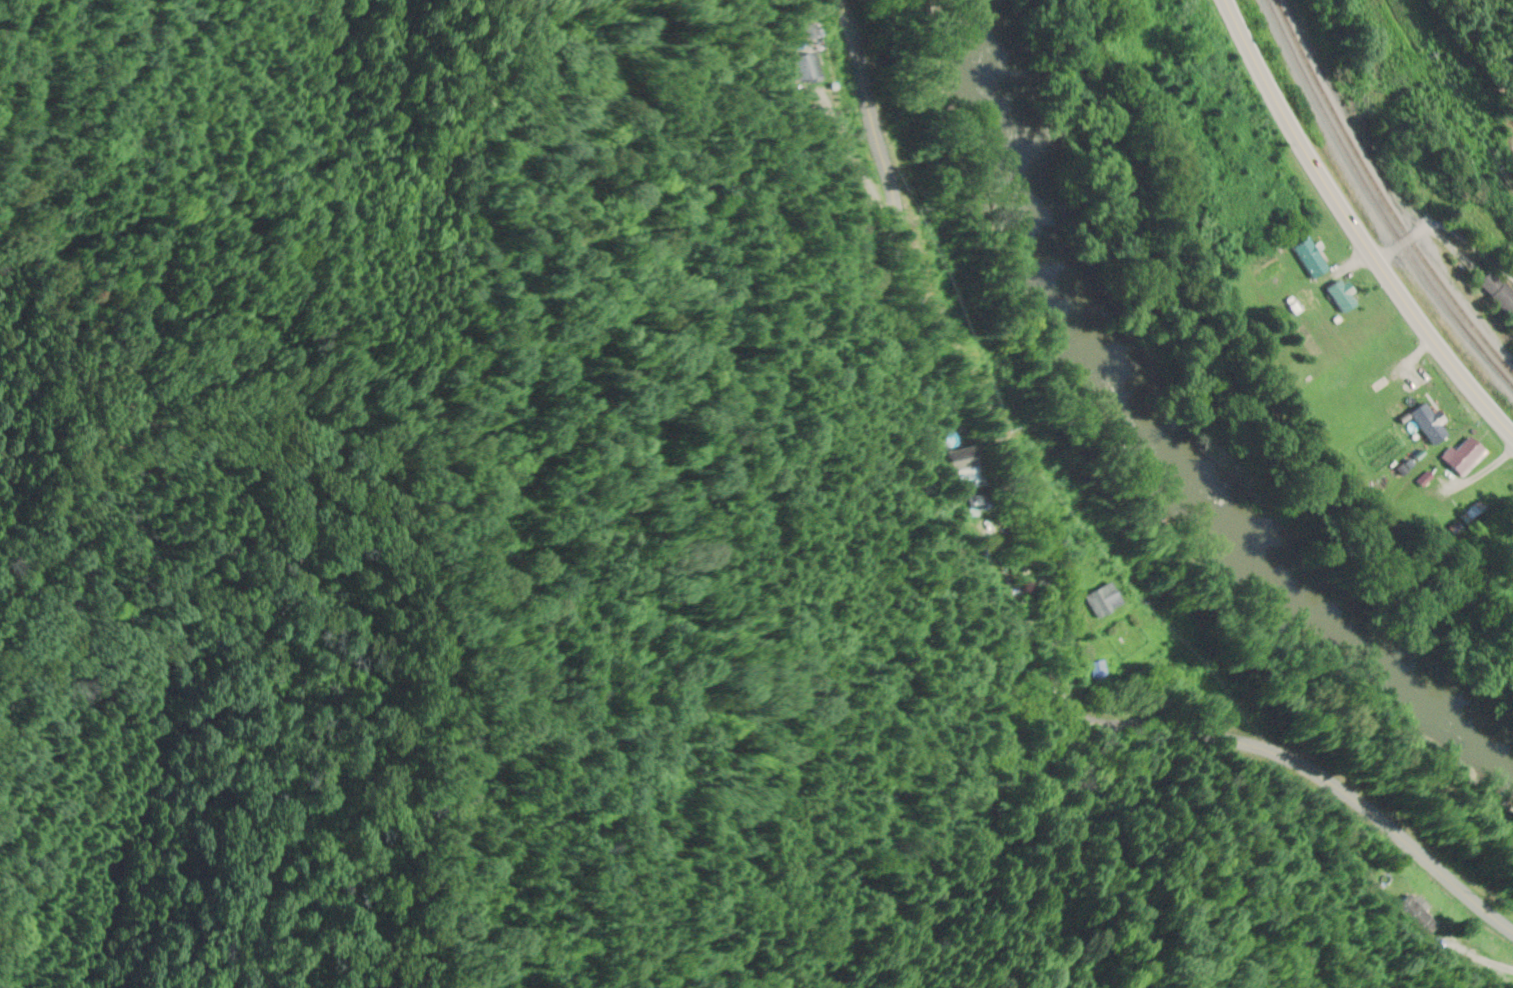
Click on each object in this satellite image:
railway: (1381, 196)
building: (1484, 227)
road: (1352, 228)
road: (1445, 229)
building: (1307, 259)
building: (1338, 296)
building: (1497, 296)
building: (1359, 394)
river: (1163, 435)
building: (1461, 459)
building: (971, 485)
building: (1485, 491)
building: (1469, 514)
building: (1425, 516)
road: (1047, 592)
building: (1100, 602)

